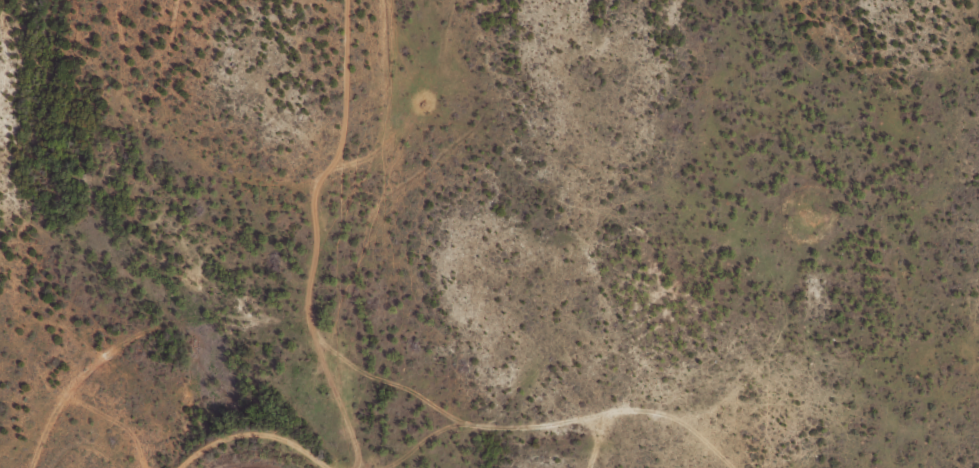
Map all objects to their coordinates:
road: (280, 278)

